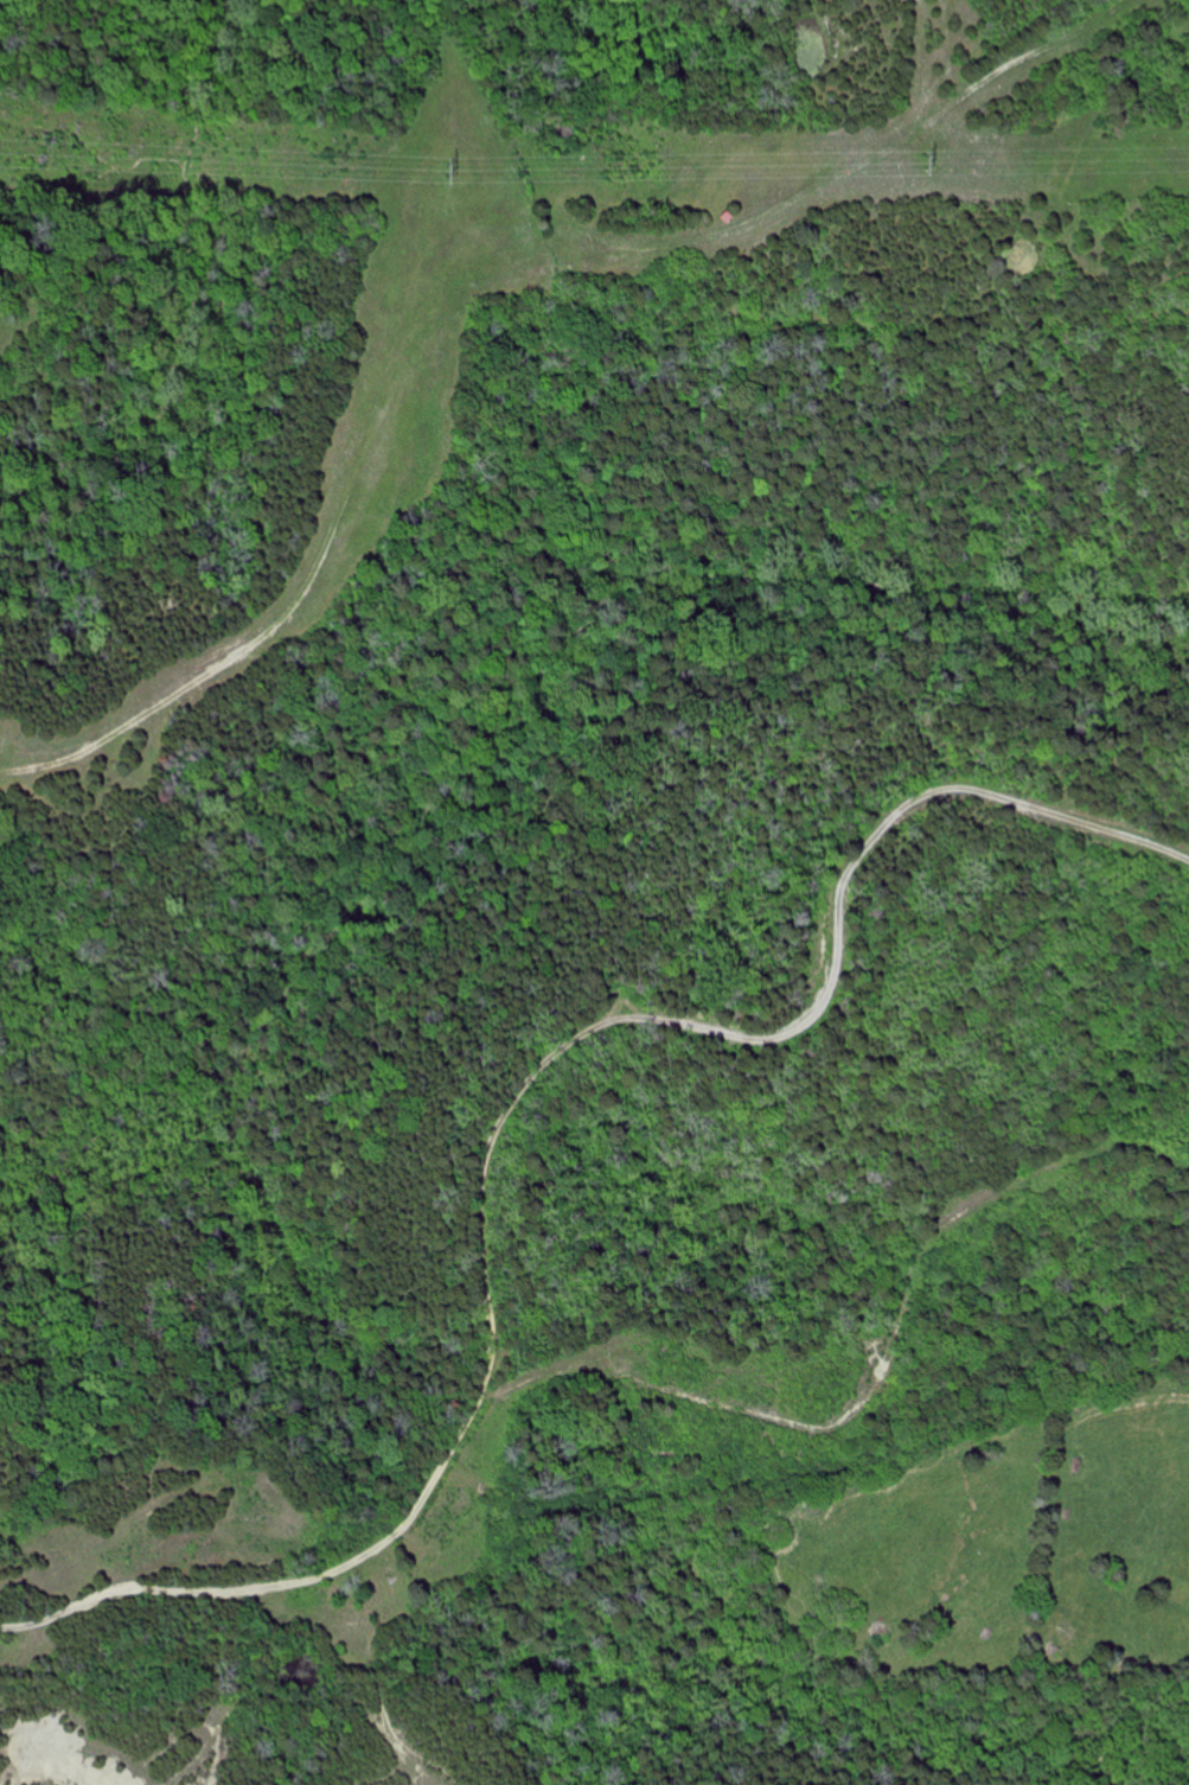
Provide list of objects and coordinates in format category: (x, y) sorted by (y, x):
power tower: (931, 161)
power tower: (452, 172)
road: (531, 1166)

